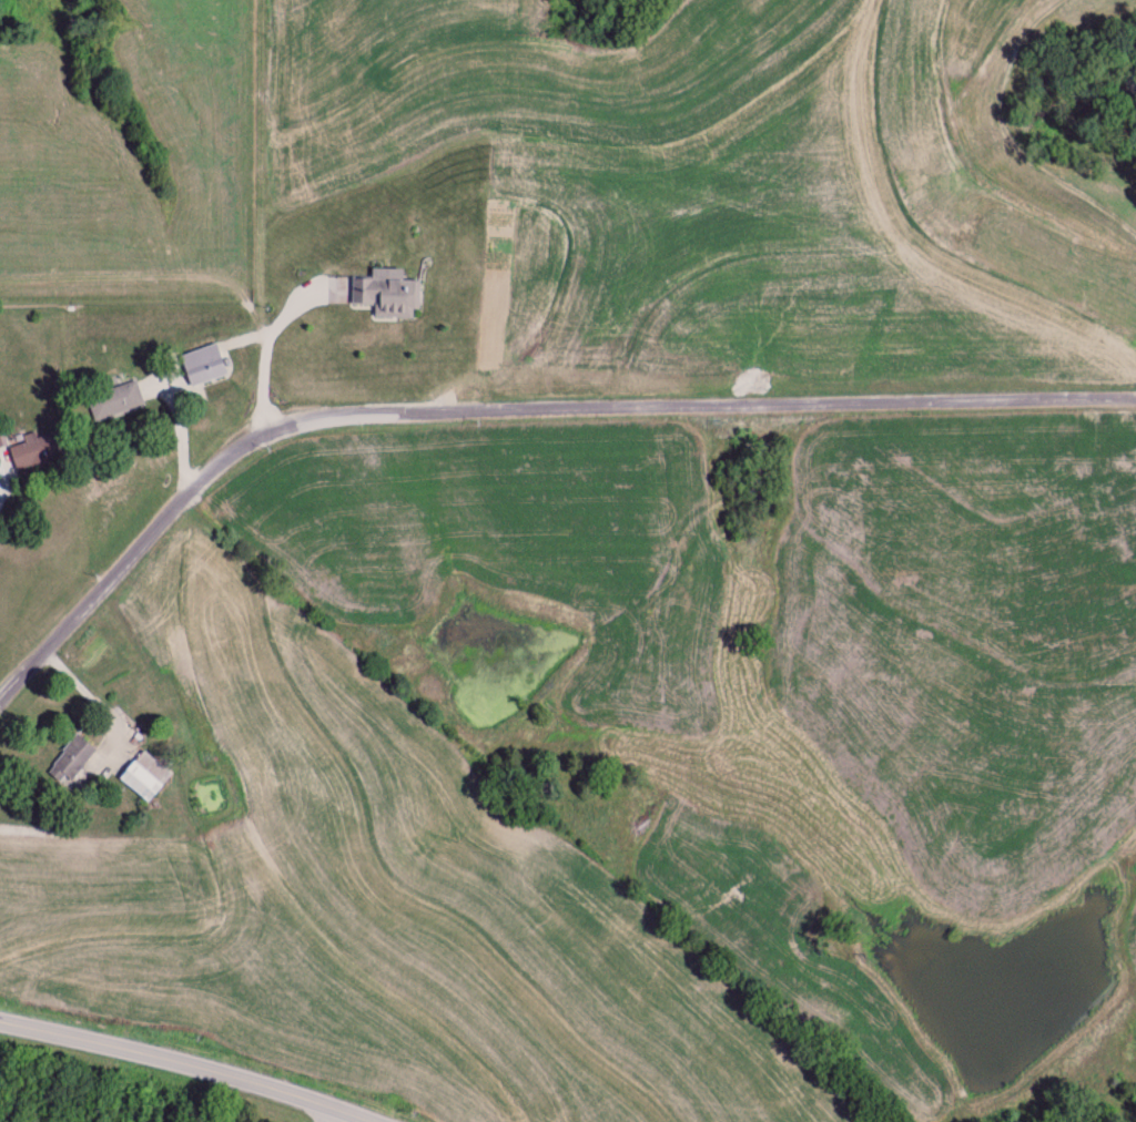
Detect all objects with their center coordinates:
road: (246, 216)
building: (386, 297)
building: (190, 366)
building: (114, 401)
road: (517, 410)
building: (70, 762)
building: (143, 777)
road: (150, 1080)

